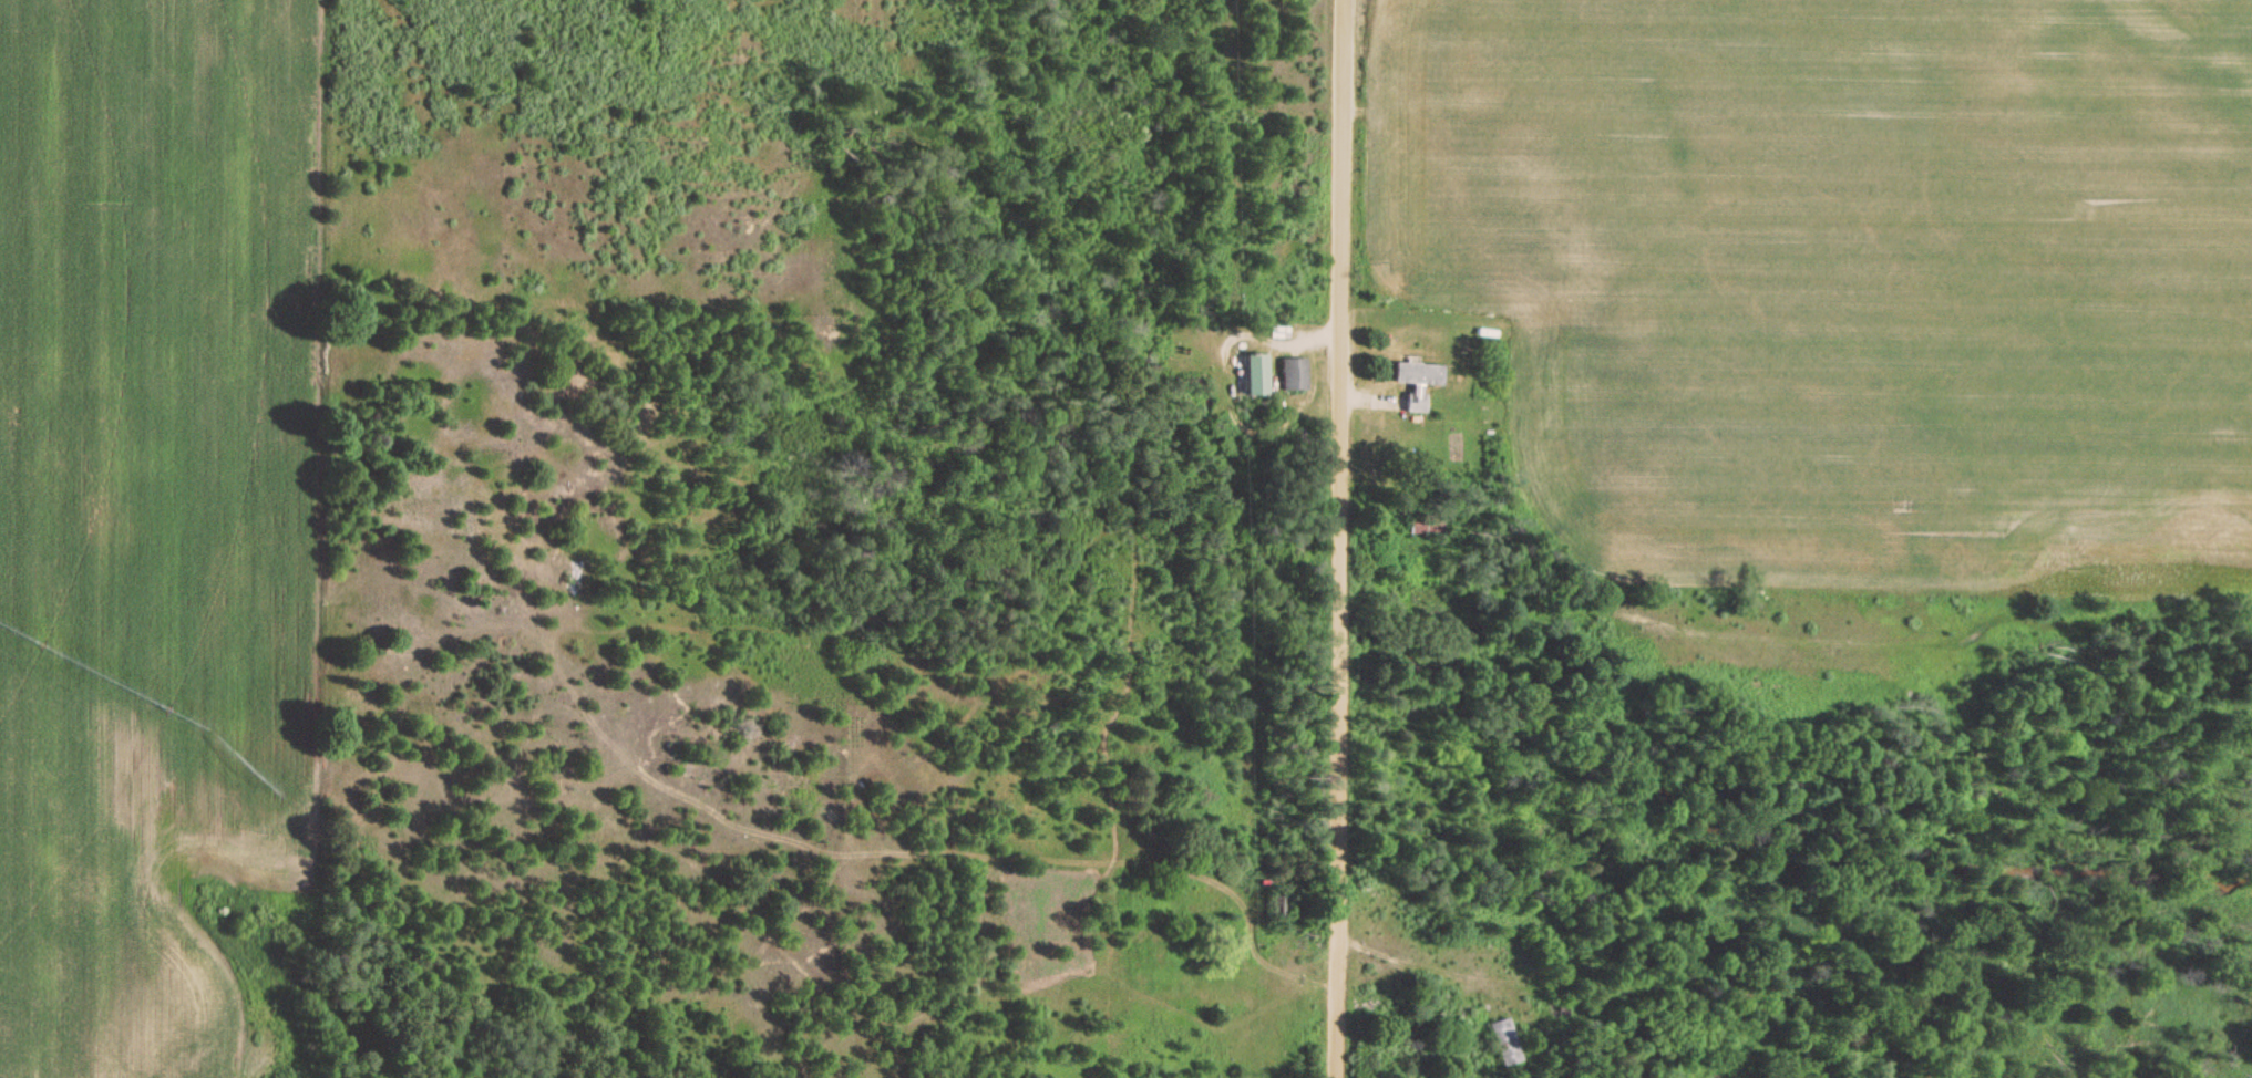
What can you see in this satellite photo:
building: (1290, 375)
building: (1253, 376)
building: (1416, 383)
crop: (153, 510)
building: (1421, 526)
road: (1338, 538)
building: (1273, 909)
building: (1505, 1044)

